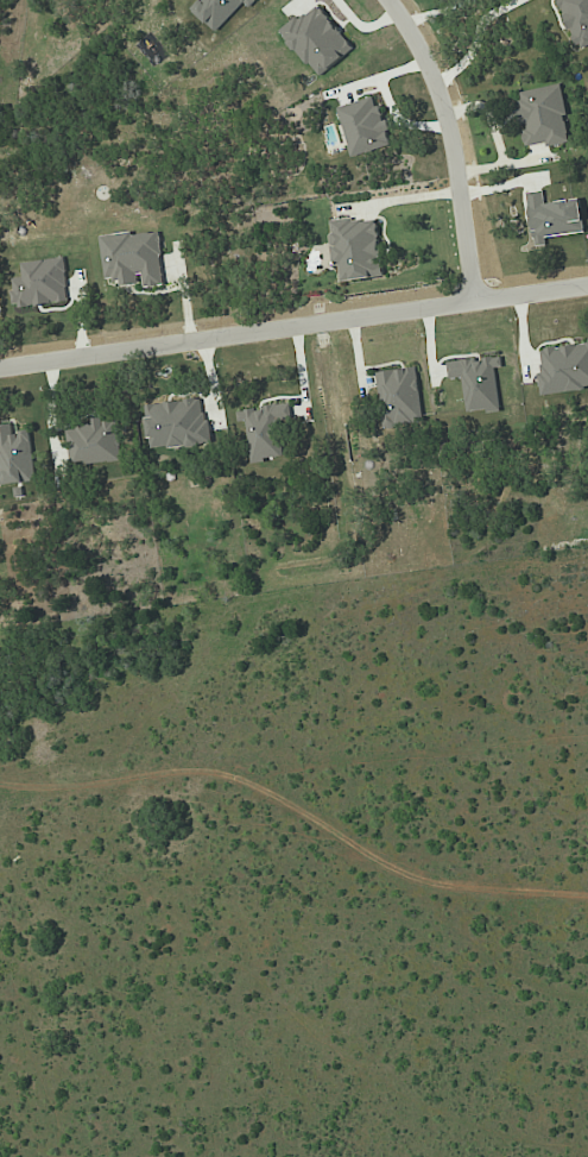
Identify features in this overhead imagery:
building: (219, 11)
building: (576, 20)
building: (317, 40)
road: (476, 40)
building: (543, 115)
building: (365, 126)
road: (454, 144)
road: (407, 202)
building: (554, 216)
building: (356, 249)
building: (133, 258)
building: (40, 283)
road: (293, 327)
building: (564, 367)
building: (478, 382)
building: (399, 396)
building: (177, 423)
building: (266, 430)
building: (95, 442)
building: (15, 455)

